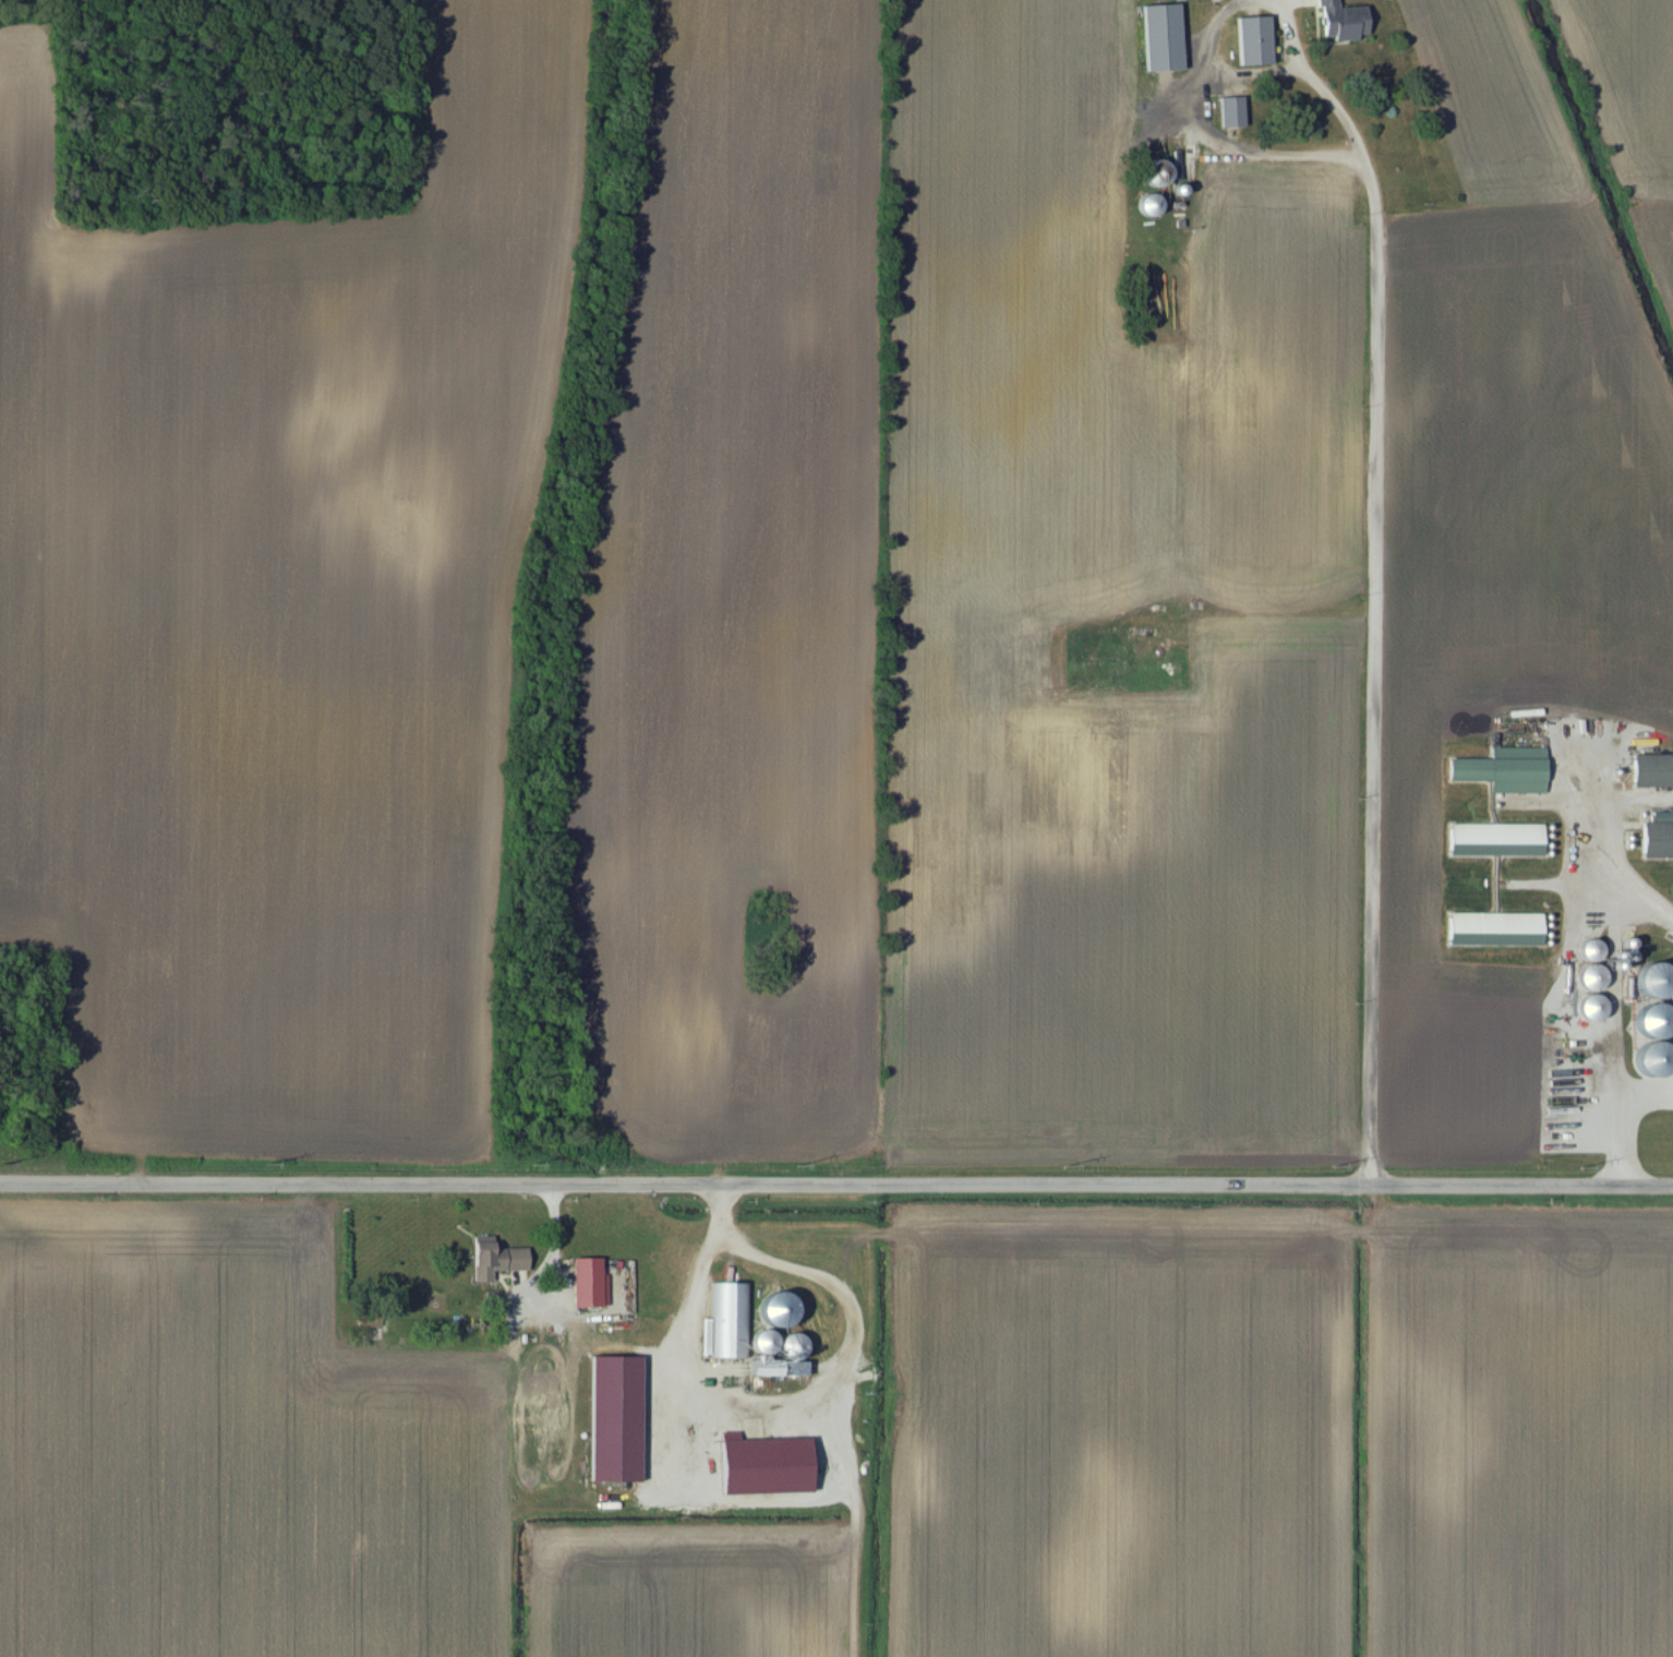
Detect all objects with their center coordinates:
building: (1339, 22)
building: (1158, 38)
building: (1251, 41)
road: (1202, 91)
building: (1228, 113)
road: (1376, 613)
building: (1503, 771)
building: (1651, 772)
building: (1657, 838)
building: (1491, 841)
road: (1604, 880)
road: (1615, 1102)
road: (835, 1184)
road: (554, 1250)
building: (493, 1261)
building: (587, 1285)
building: (369, 1322)
building: (750, 1335)
building: (762, 1468)
road: (785, 1505)

